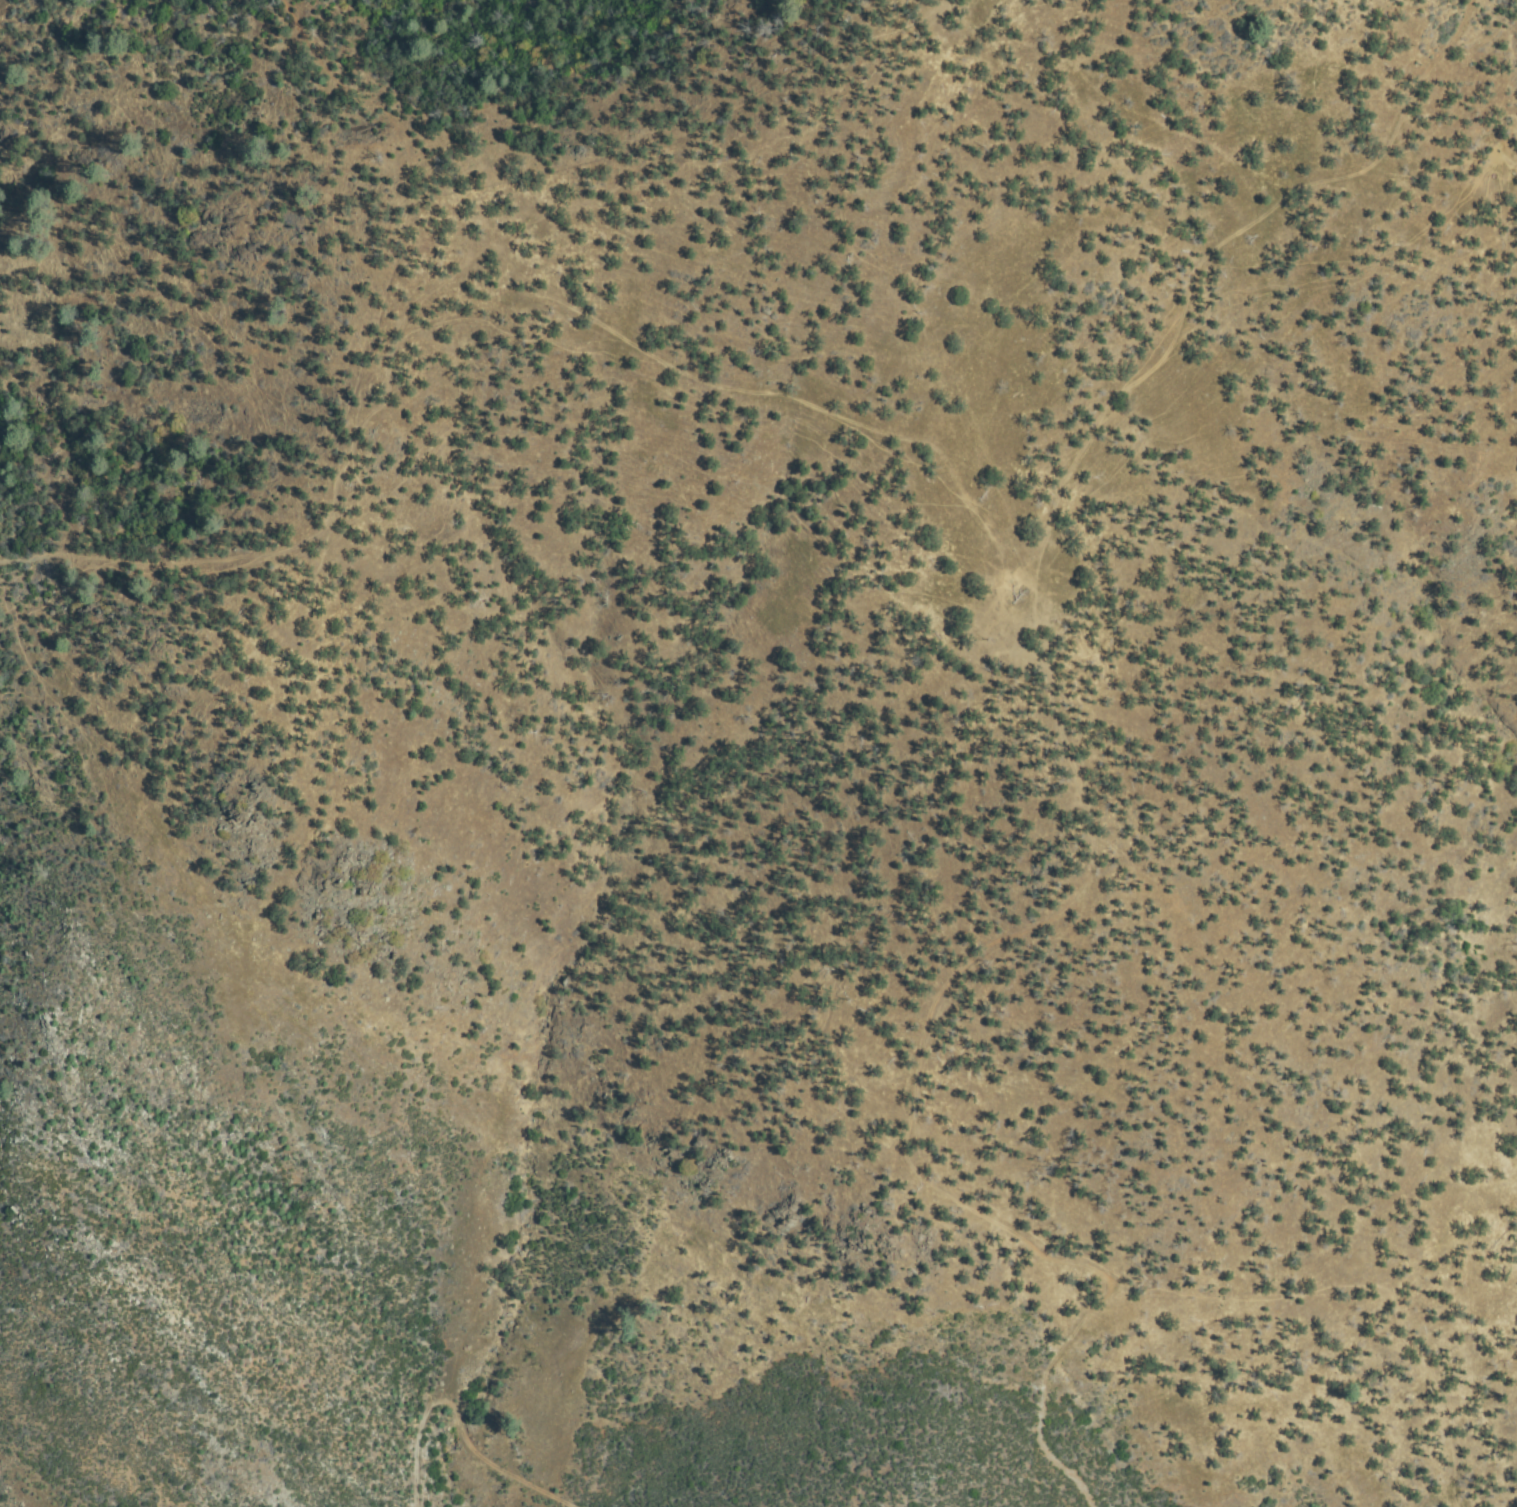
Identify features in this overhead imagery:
road: (459, 1418)

